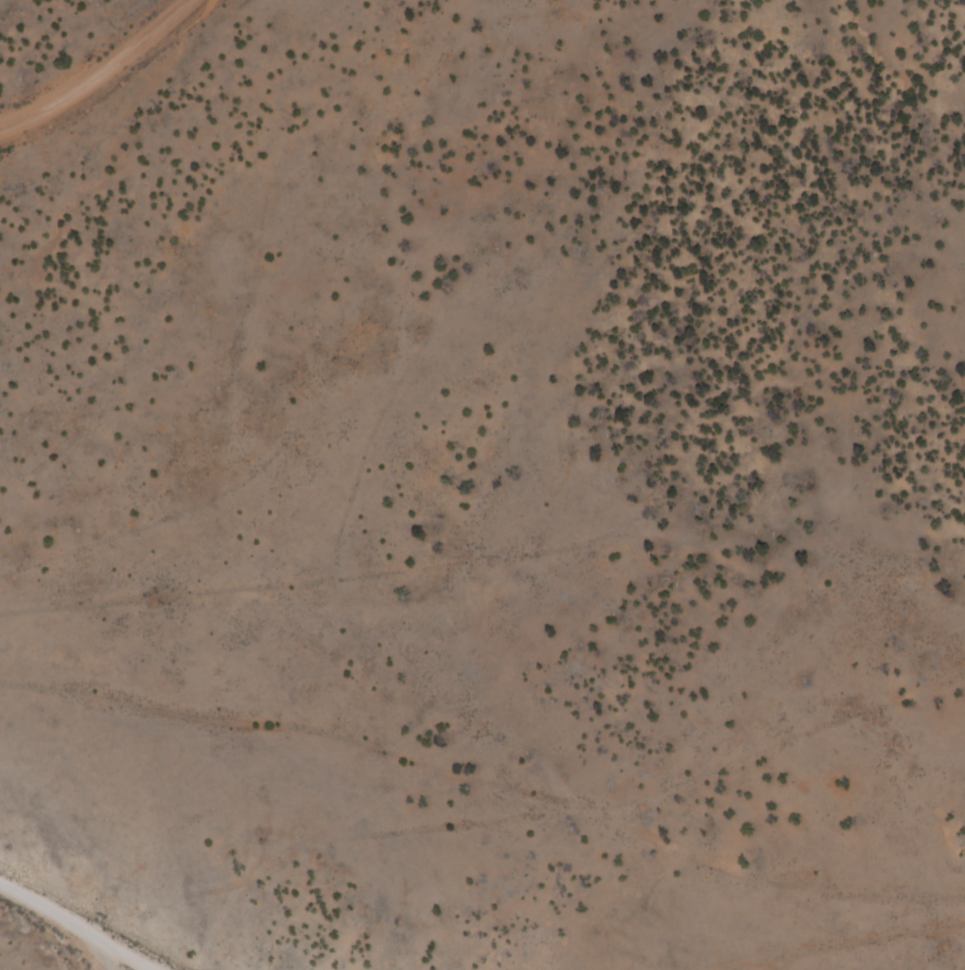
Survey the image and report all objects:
road: (834, 949)

